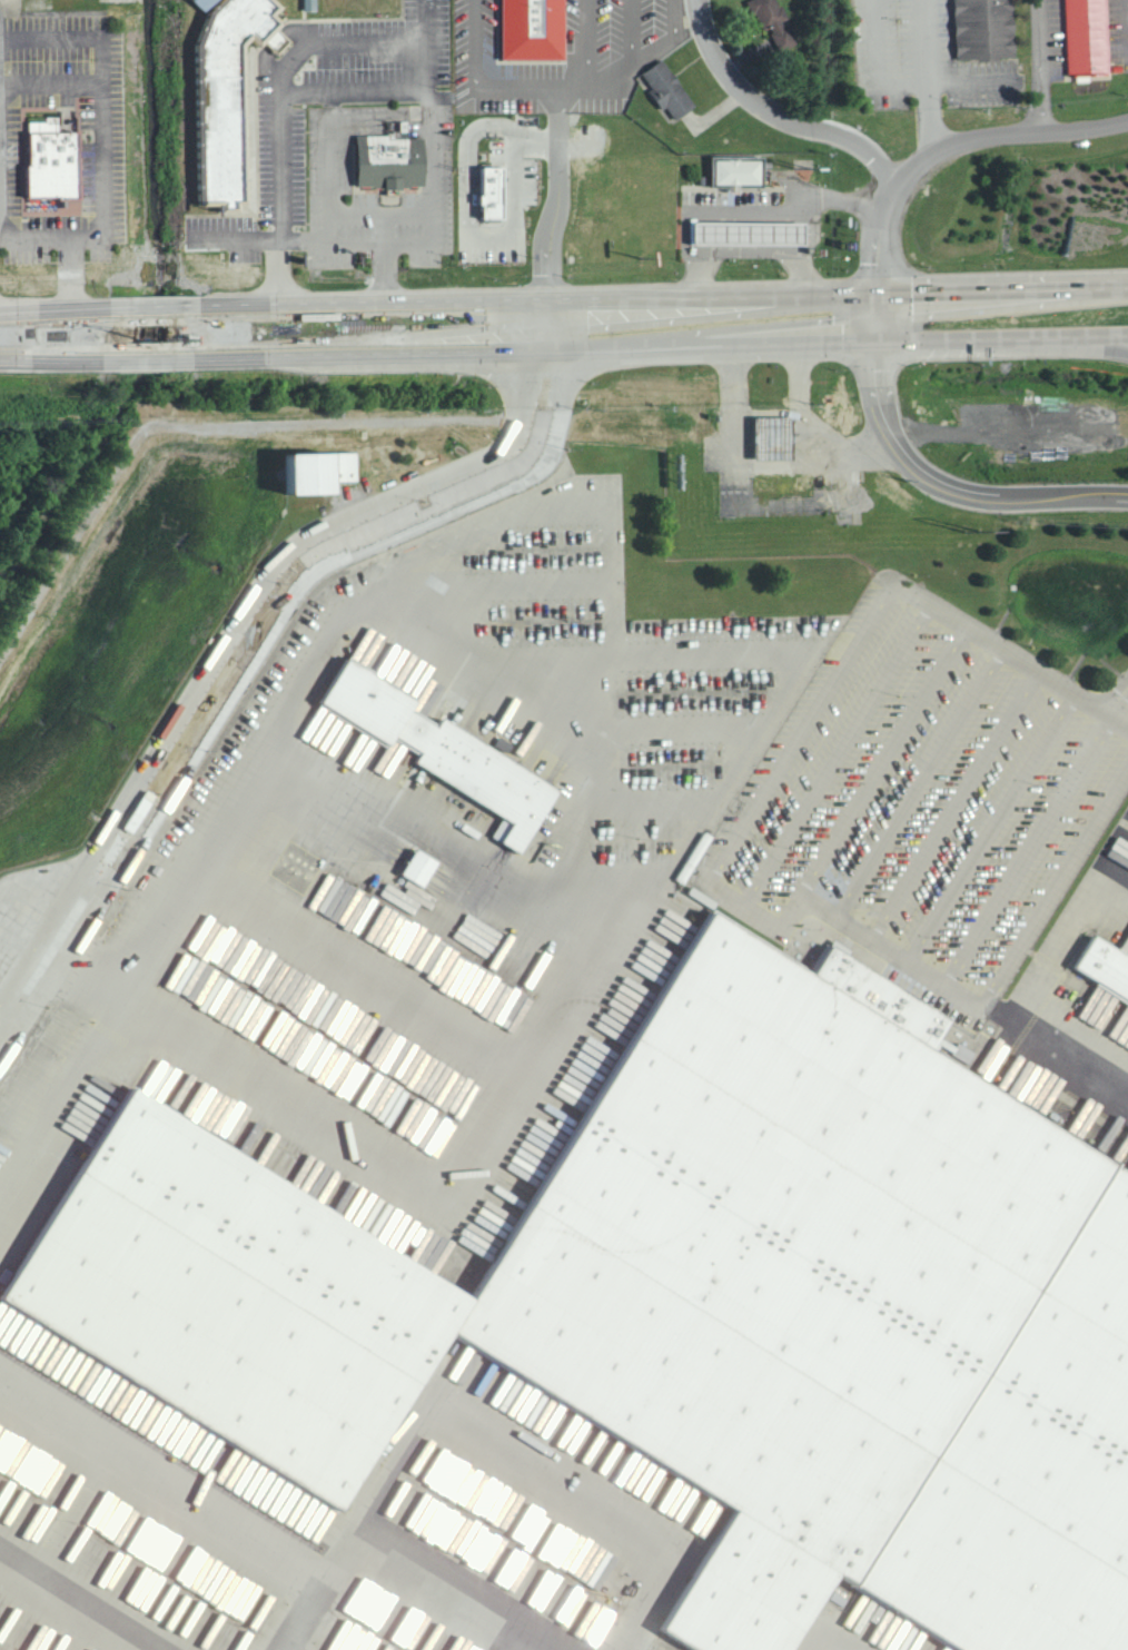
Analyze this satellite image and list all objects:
building: (205, 2)
building: (778, 21)
building: (536, 29)
building: (988, 29)
building: (1091, 37)
road: (1039, 67)
building: (672, 88)
road: (359, 95)
building: (225, 96)
road: (776, 115)
road: (109, 132)
road: (954, 146)
building: (384, 149)
building: (48, 150)
building: (733, 172)
building: (495, 190)
building: (492, 227)
building: (744, 233)
road: (38, 235)
traffic signals: (878, 289)
road: (563, 300)
traffic signals: (550, 302)
traffic signals: (878, 343)
road: (564, 348)
traffic signals: (552, 349)
road: (1050, 352)
building: (325, 470)
road: (929, 475)
road: (1116, 712)
building: (447, 750)
building: (424, 867)
road: (52, 937)
building: (1106, 972)
building: (701, 1295)

